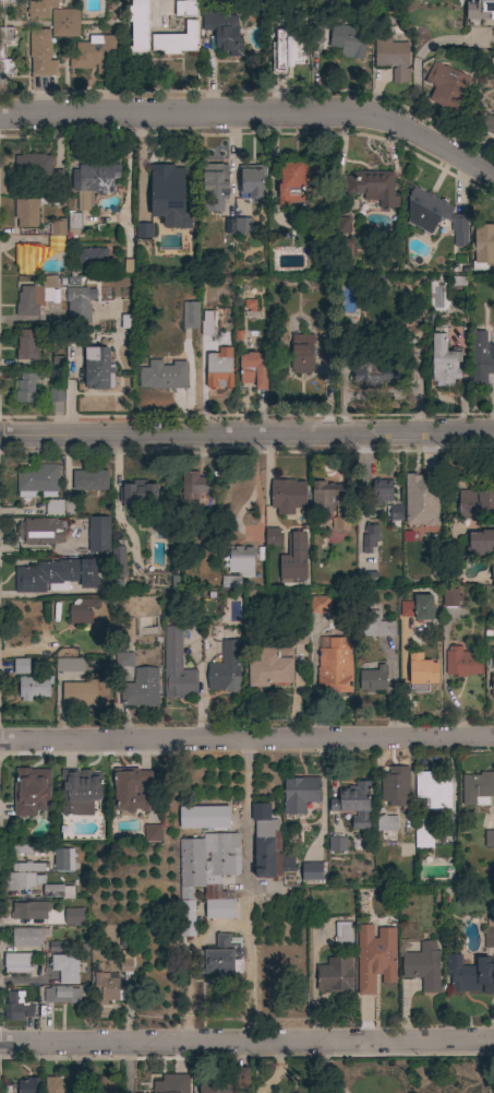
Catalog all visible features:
building: (40, 8)
building: (185, 8)
building: (480, 10)
building: (2, 12)
building: (64, 23)
building: (138, 26)
building: (222, 32)
building: (315, 34)
building: (344, 37)
building: (176, 40)
building: (287, 50)
building: (40, 52)
building: (96, 55)
building: (393, 57)
building: (7, 63)
building: (446, 84)
road: (253, 112)
building: (478, 117)
building: (33, 165)
road: (128, 165)
building: (58, 178)
building: (252, 180)
building: (93, 182)
building: (291, 182)
building: (214, 187)
building: (373, 187)
building: (168, 197)
building: (26, 212)
building: (434, 215)
building: (73, 224)
building: (342, 225)
building: (229, 226)
building: (243, 226)
building: (144, 230)
building: (57, 235)
building: (482, 247)
building: (347, 251)
building: (26, 258)
building: (92, 259)
building: (35, 296)
building: (77, 306)
building: (190, 314)
building: (206, 323)
building: (26, 345)
building: (329, 349)
building: (302, 352)
building: (57, 358)
building: (443, 358)
building: (480, 358)
building: (96, 368)
building: (371, 368)
building: (253, 369)
building: (218, 370)
building: (164, 376)
building: (26, 390)
building: (56, 395)
road: (246, 438)
building: (89, 480)
building: (38, 482)
building: (193, 486)
building: (382, 491)
building: (140, 495)
building: (287, 496)
building: (325, 496)
building: (420, 502)
building: (449, 503)
building: (475, 503)
building: (70, 507)
building: (53, 508)
building: (395, 512)
building: (339, 523)
building: (38, 531)
building: (97, 533)
building: (272, 536)
building: (370, 537)
building: (480, 543)
building: (293, 559)
building: (118, 560)
building: (241, 561)
building: (492, 566)
building: (55, 575)
building: (454, 578)
building: (230, 581)
building: (450, 597)
building: (320, 604)
building: (418, 608)
building: (82, 609)
building: (375, 625)
building: (129, 645)
building: (292, 648)
building: (492, 657)
building: (461, 662)
building: (69, 665)
building: (21, 666)
building: (176, 666)
building: (334, 666)
building: (269, 667)
building: (226, 668)
building: (420, 673)
building: (372, 679)
building: (491, 686)
building: (34, 687)
building: (141, 688)
building: (87, 693)
road: (246, 738)
building: (394, 788)
building: (434, 788)
building: (477, 788)
building: (130, 789)
building: (31, 791)
building: (80, 792)
building: (299, 794)
building: (353, 804)
building: (203, 817)
building: (386, 824)
building: (153, 833)
building: (423, 837)
building: (489, 839)
building: (266, 843)
building: (336, 844)
building: (28, 850)
building: (62, 859)
building: (287, 864)
building: (28, 867)
building: (311, 871)
building: (206, 877)
building: (22, 880)
road: (248, 890)
building: (58, 891)
building: (29, 911)
building: (74, 916)
building: (489, 934)
building: (342, 935)
building: (27, 937)
building: (376, 948)
building: (222, 958)
building: (125, 962)
building: (16, 963)
building: (422, 966)
building: (65, 967)
building: (469, 974)
building: (335, 976)
building: (365, 984)
building: (107, 988)
building: (61, 995)
building: (16, 1007)
road: (246, 1042)
road: (126, 1067)
building: (227, 1083)
building: (55, 1084)
building: (103, 1084)
building: (170, 1084)
building: (27, 1085)

